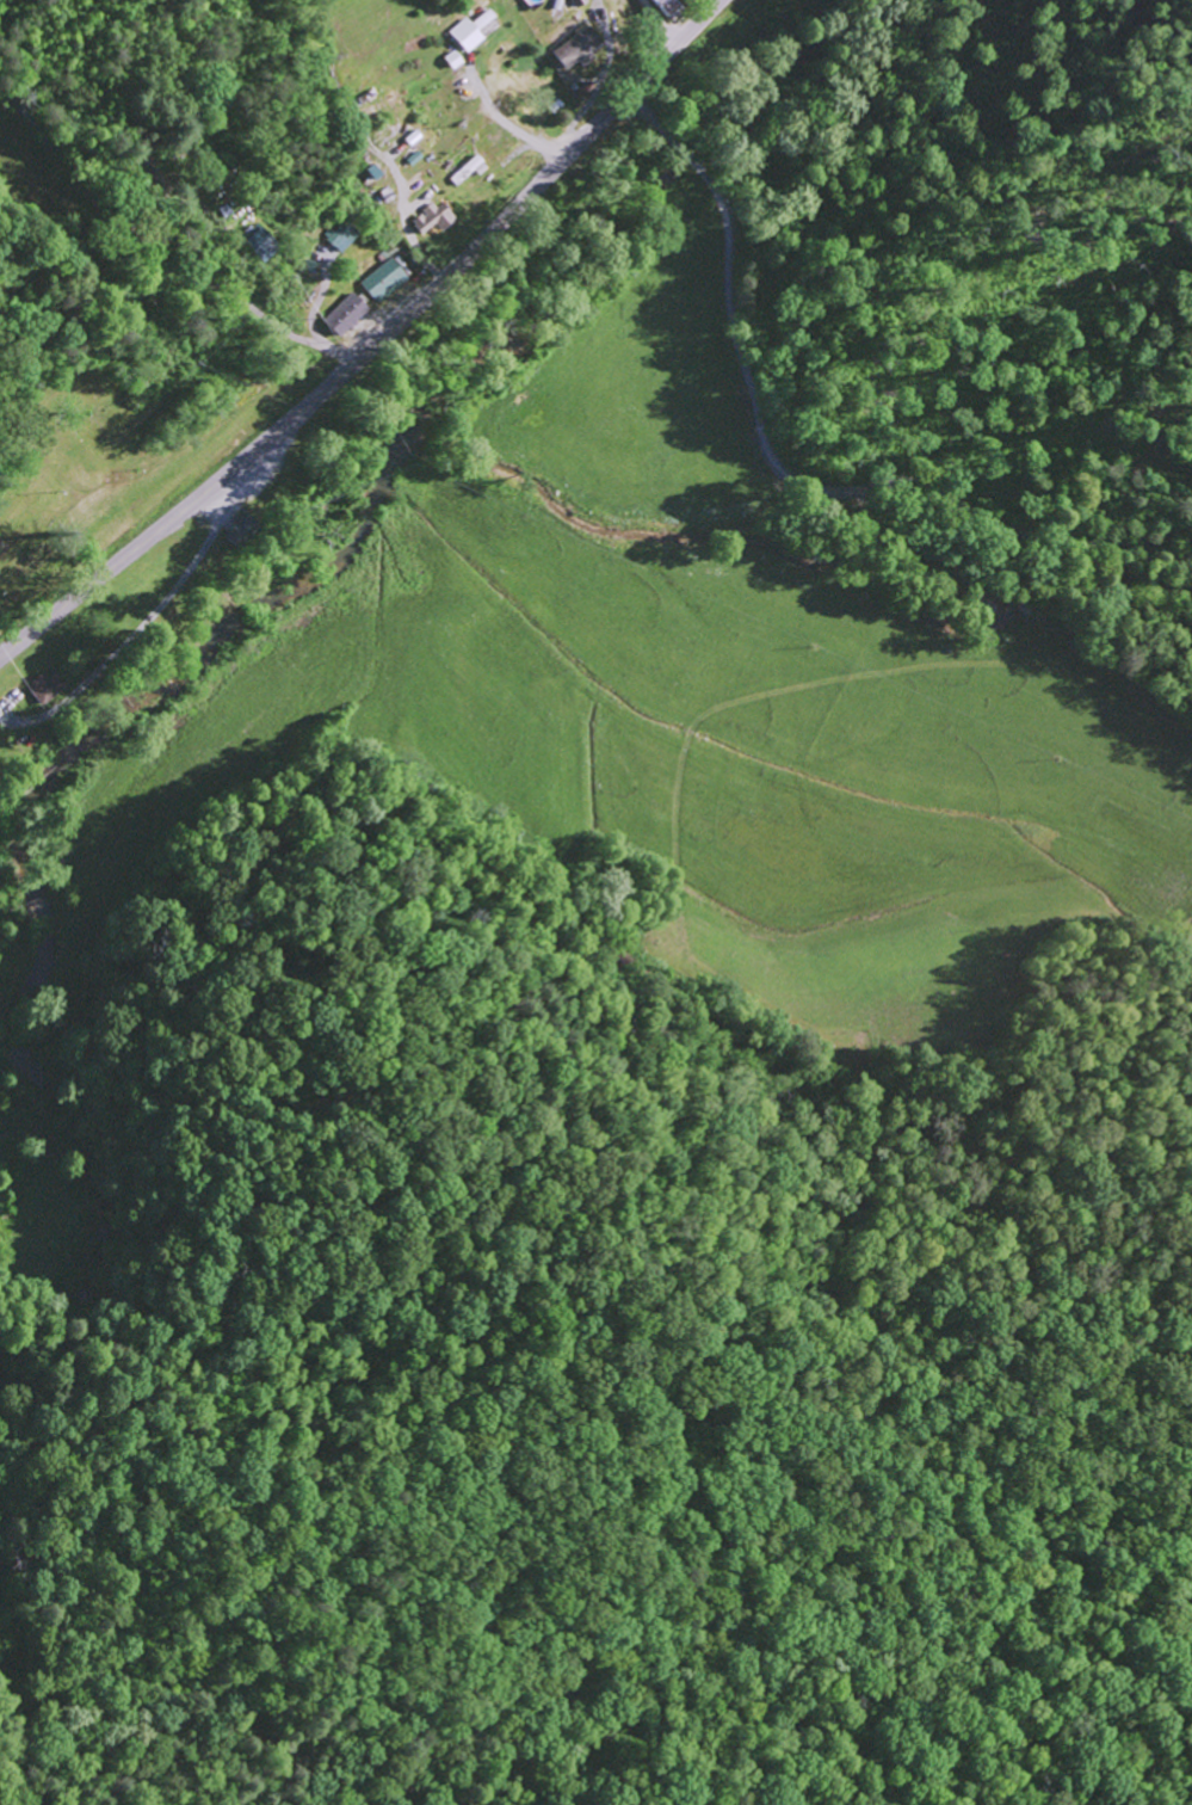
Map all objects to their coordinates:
building: (570, 2)
building: (661, 6)
road: (646, 8)
building: (464, 30)
road: (662, 33)
building: (567, 49)
building: (427, 217)
building: (339, 236)
road: (158, 253)
building: (379, 281)
building: (339, 315)
road: (372, 344)
road: (190, 345)
road: (749, 388)
building: (242, 529)
road: (1017, 534)
building: (48, 684)
road: (699, 1215)
road: (325, 1314)

